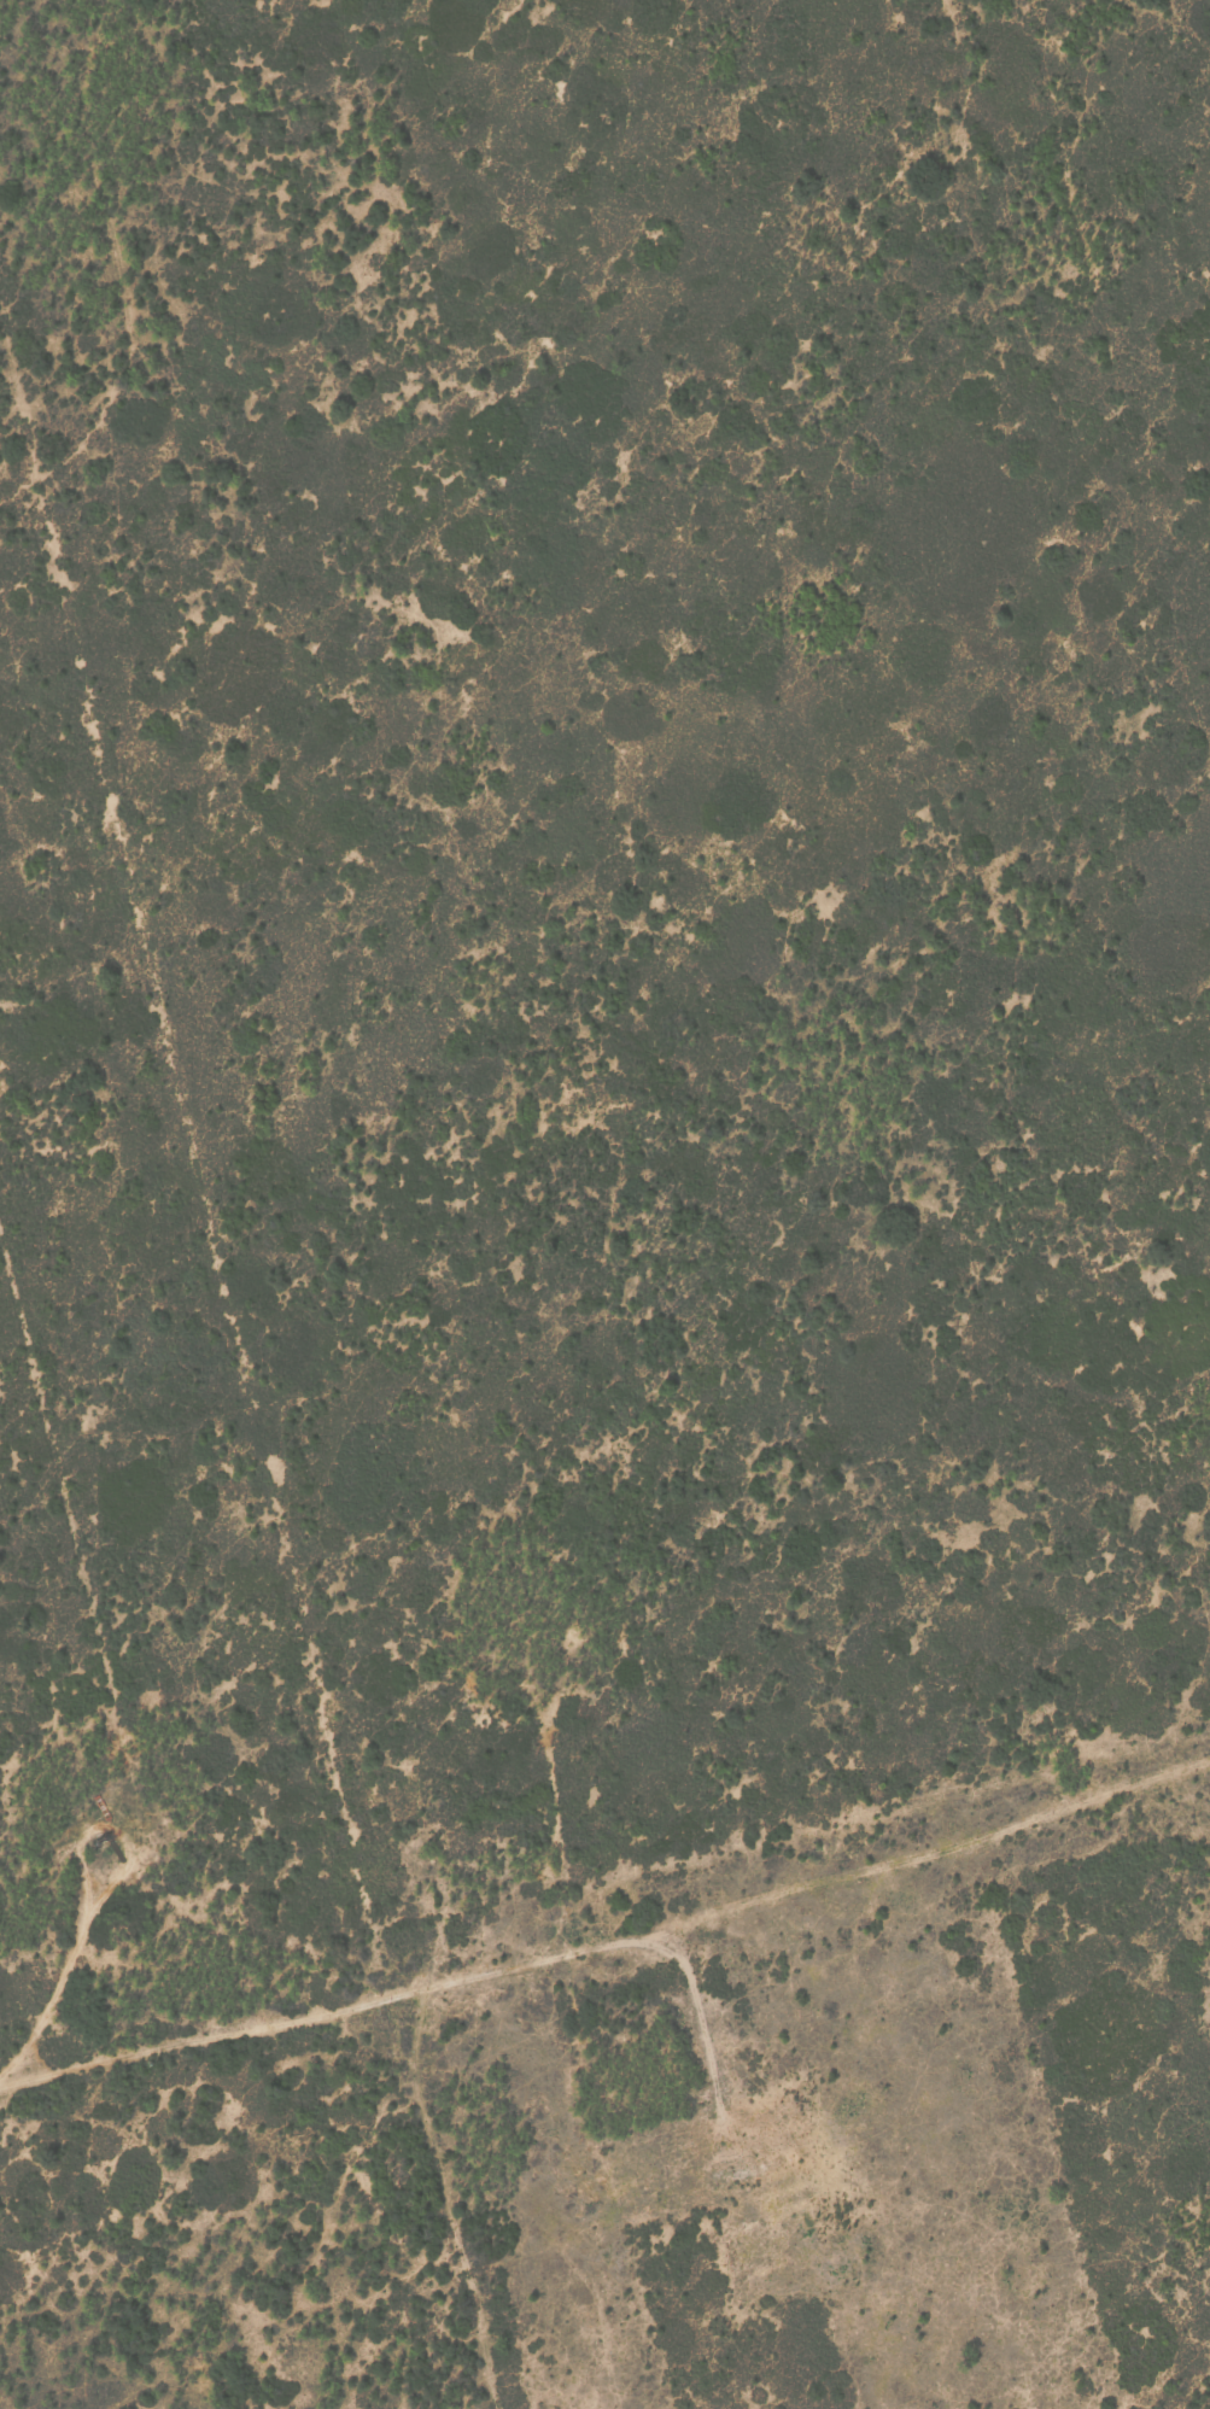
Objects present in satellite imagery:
road: (82, 259)
road: (72, 1341)
road: (607, 1929)
road: (370, 2056)

